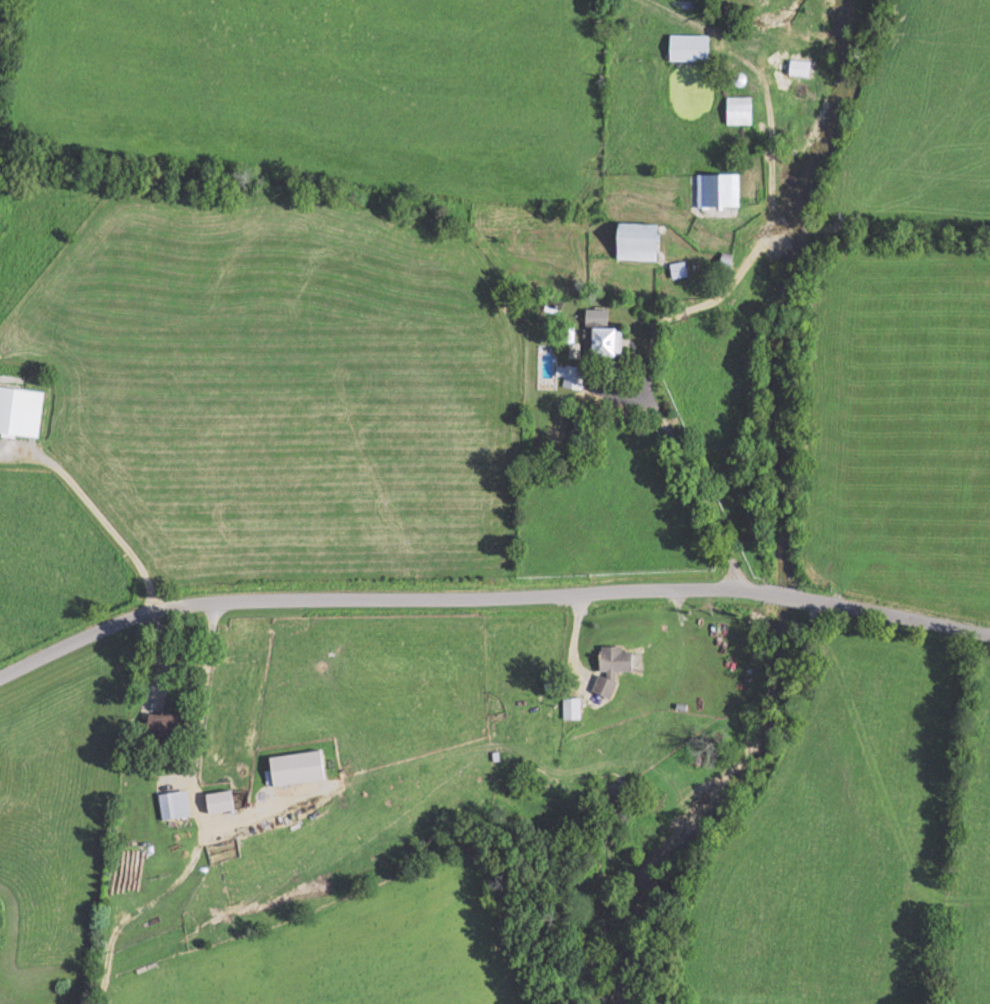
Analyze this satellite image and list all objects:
building: (692, 47)
building: (802, 67)
building: (741, 108)
building: (720, 190)
building: (644, 240)
building: (679, 269)
building: (610, 340)
building: (571, 375)
building: (21, 411)
road: (489, 595)
building: (616, 667)
building: (168, 724)
building: (676, 739)
building: (300, 768)
building: (223, 801)
building: (176, 805)

